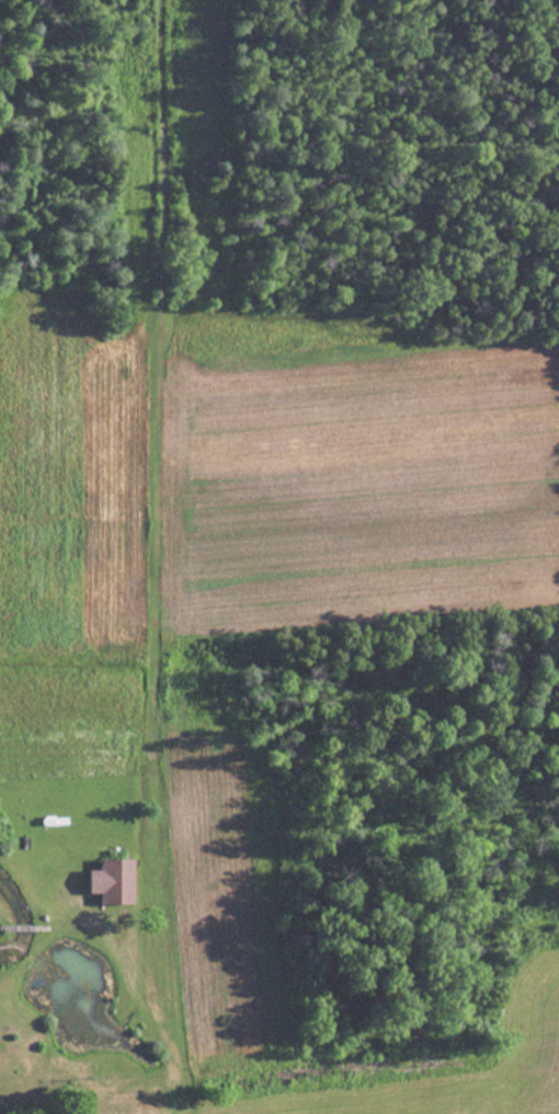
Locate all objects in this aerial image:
building: (106, 880)

